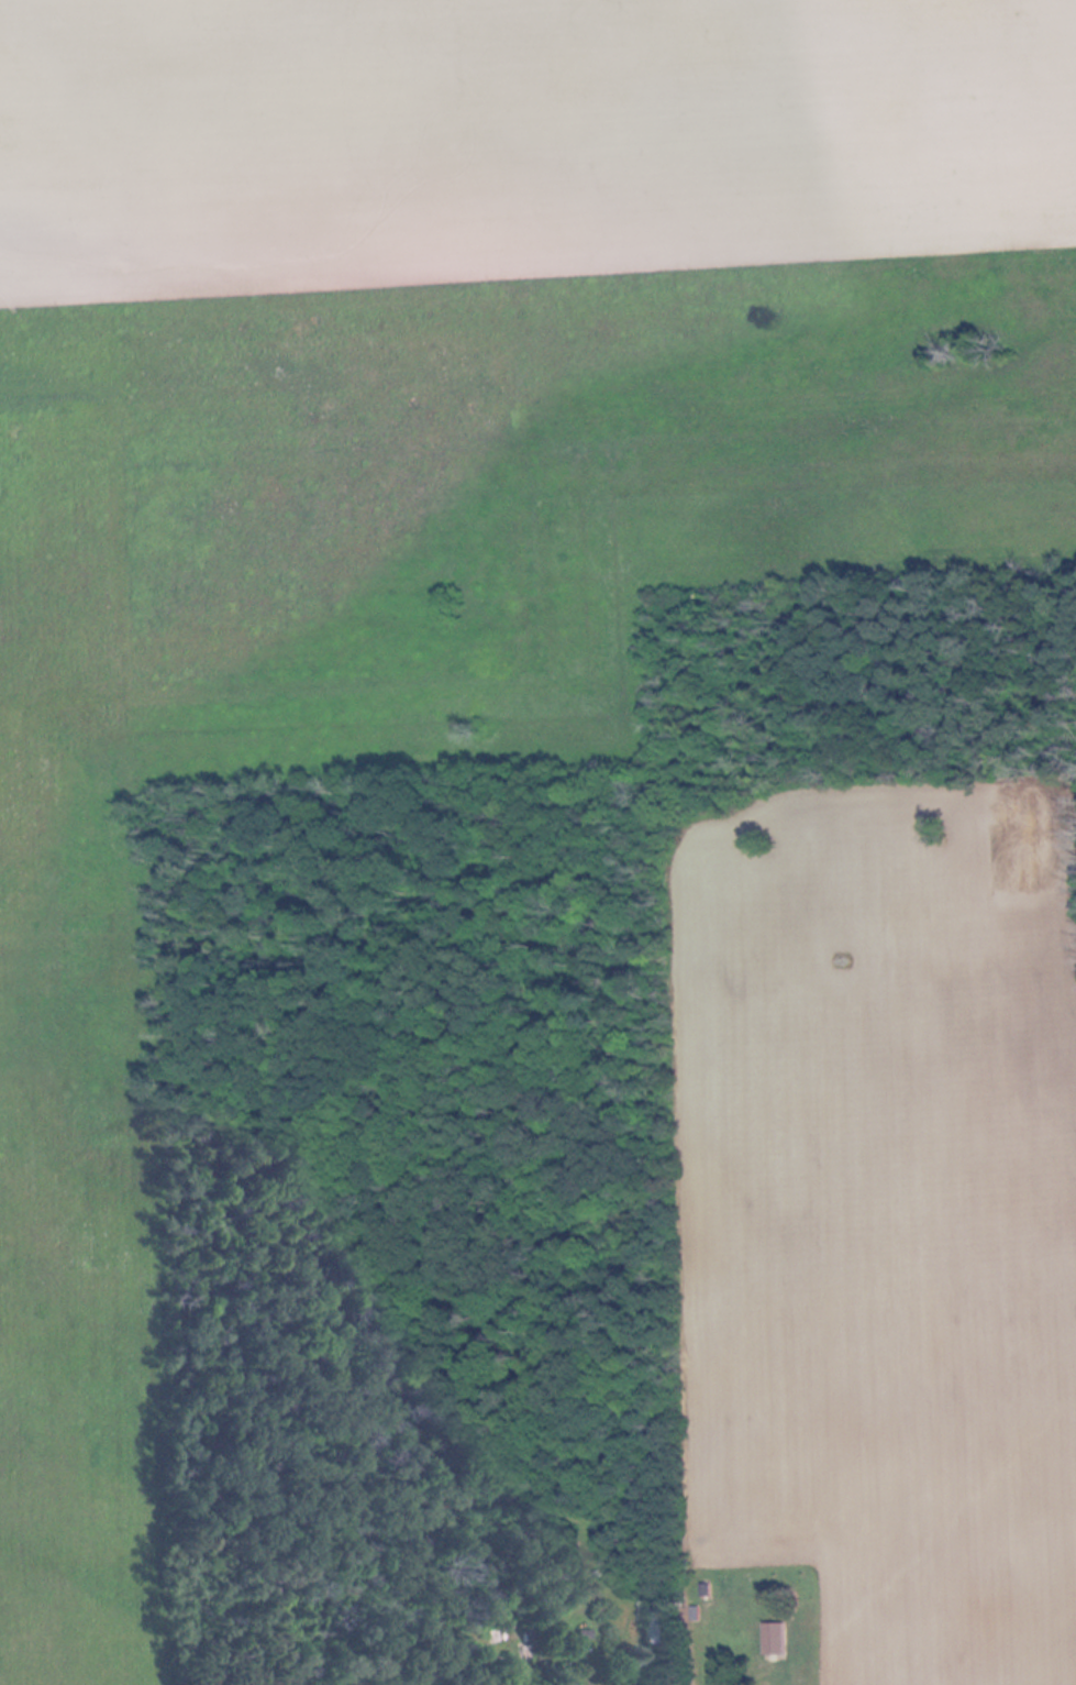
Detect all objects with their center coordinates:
building: (532, 1633)
building: (780, 1639)

